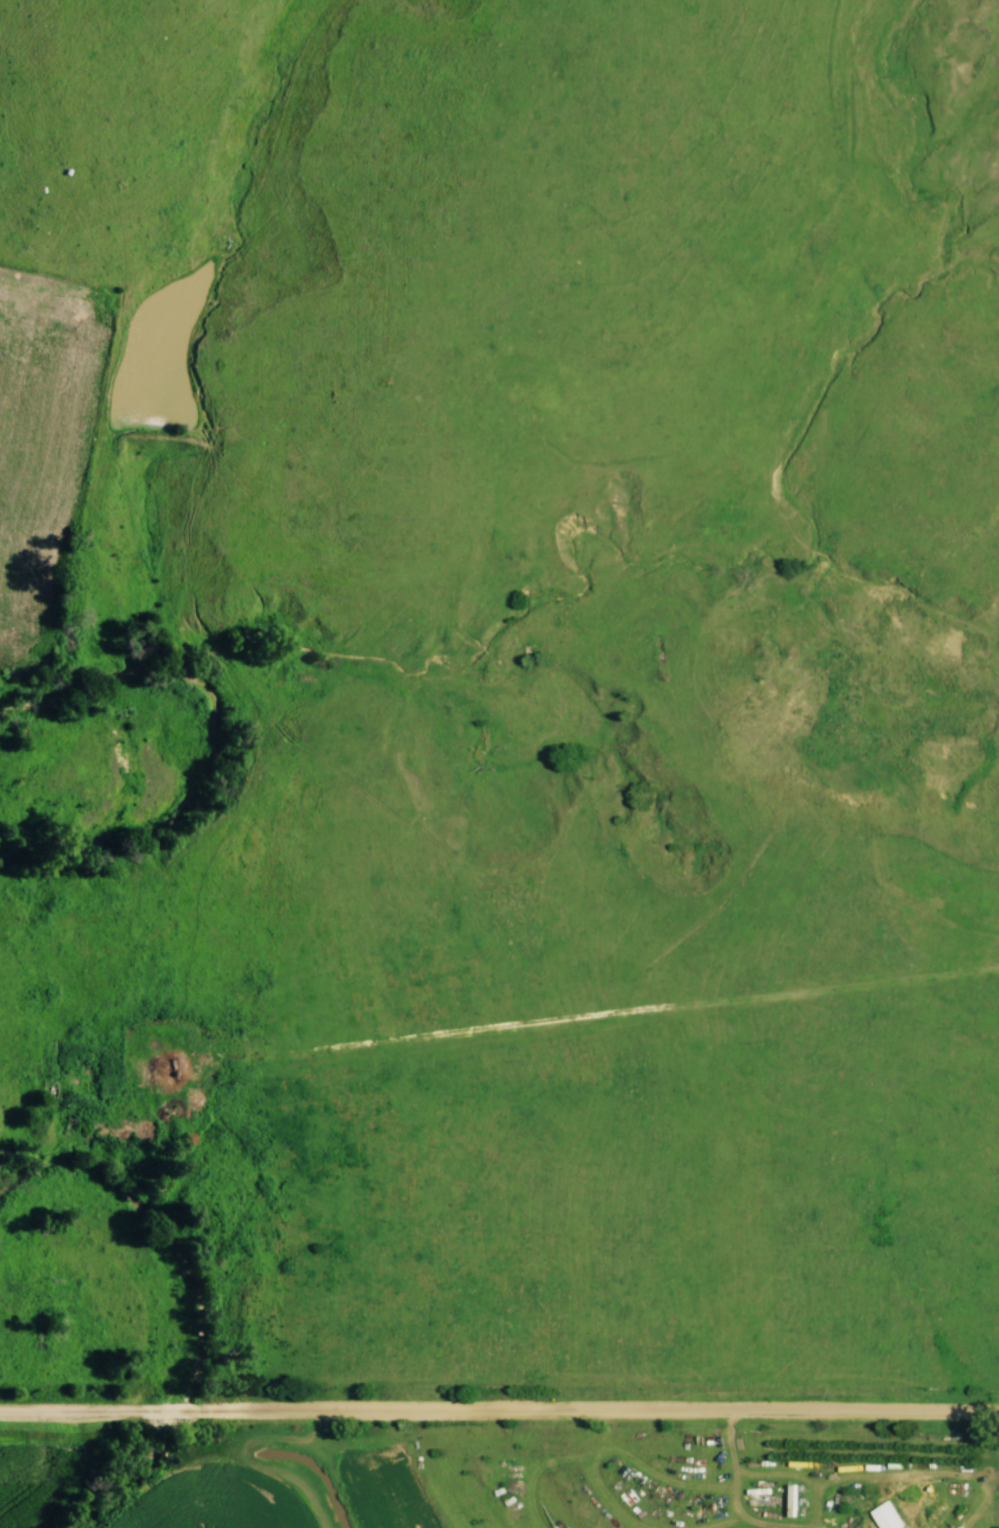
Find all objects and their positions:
road: (499, 1410)
building: (885, 1515)

